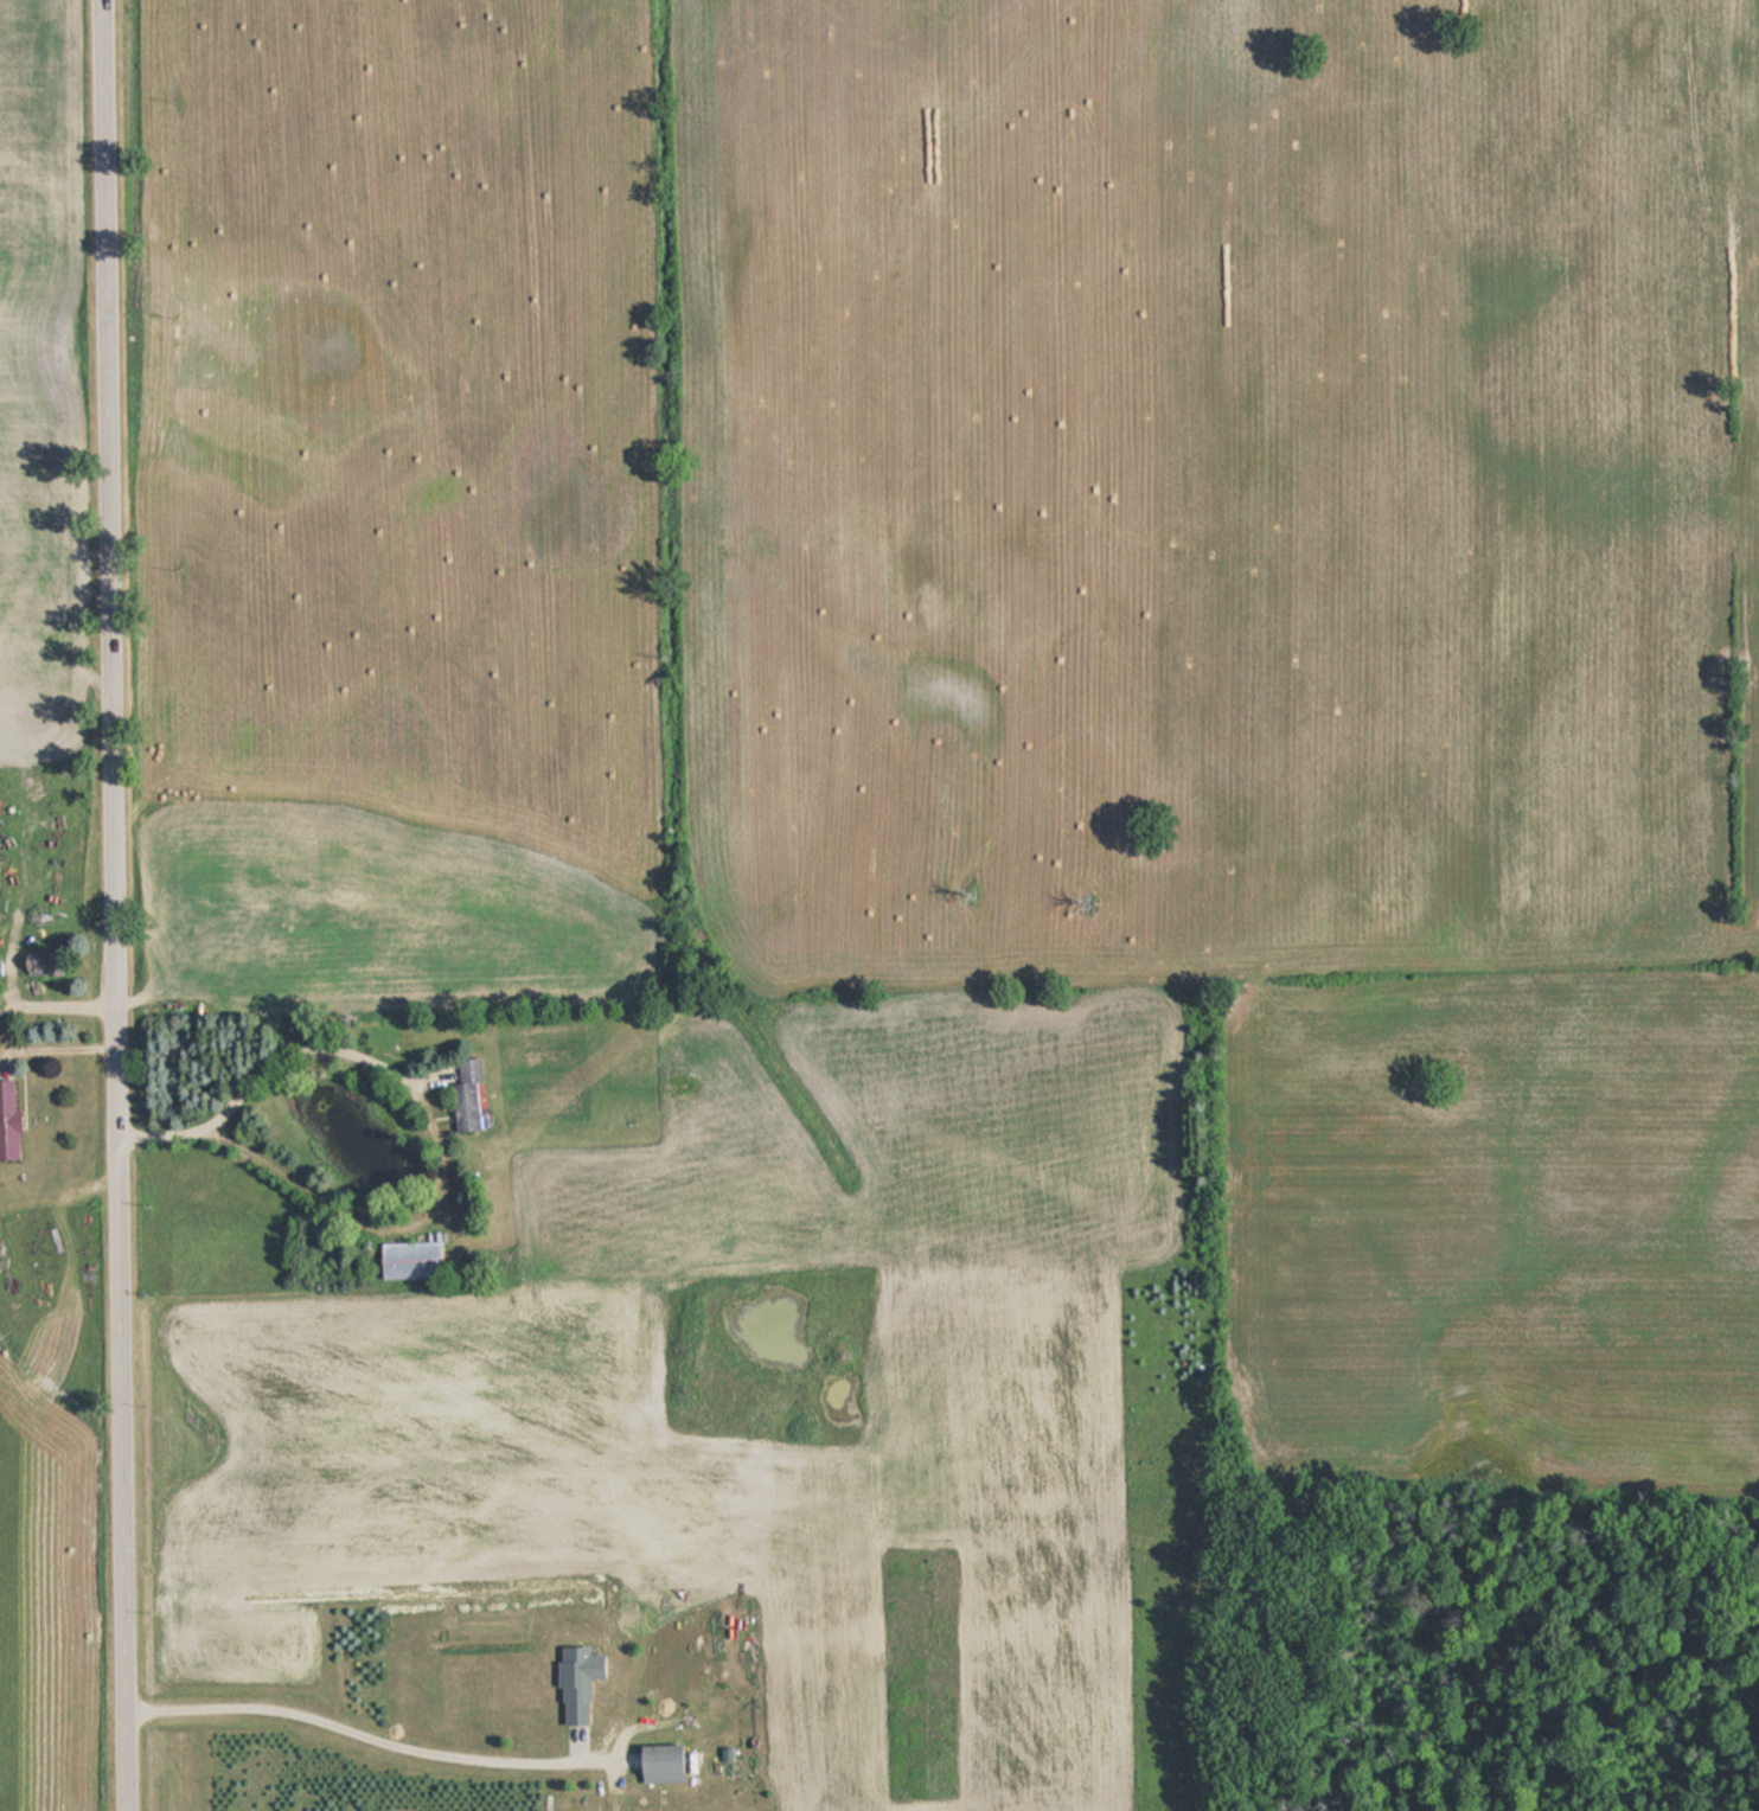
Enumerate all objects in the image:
road: (116, 904)
building: (2, 1029)
building: (465, 1096)
building: (7, 1119)
building: (405, 1260)
building: (545, 1741)
building: (658, 1765)

